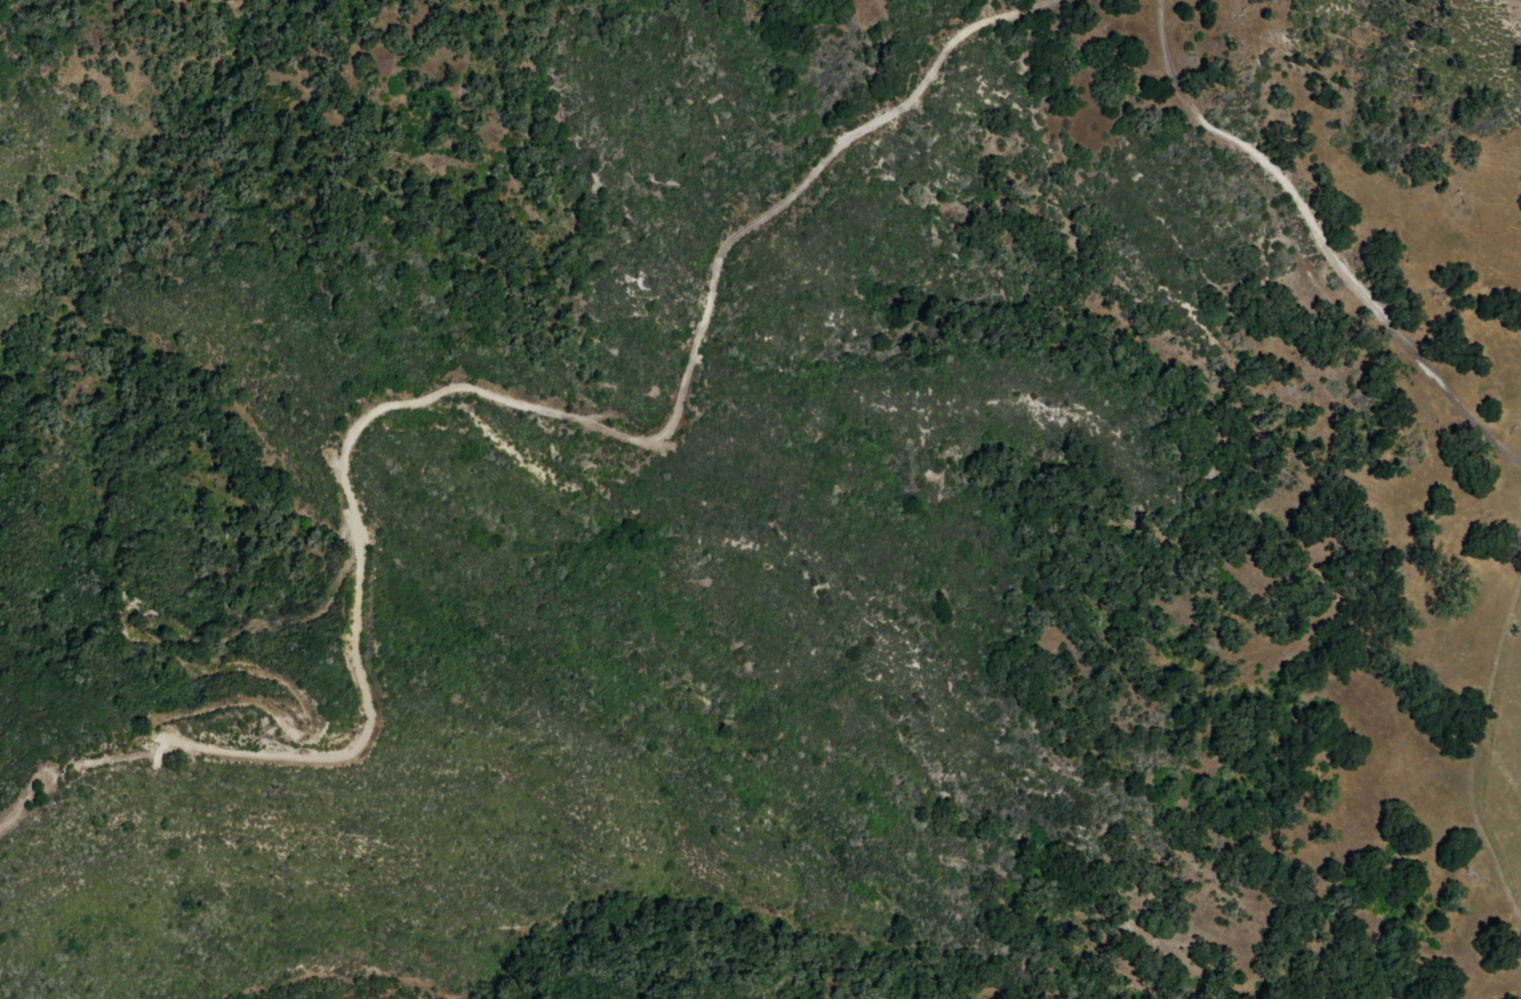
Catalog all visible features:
road: (1472, 748)

